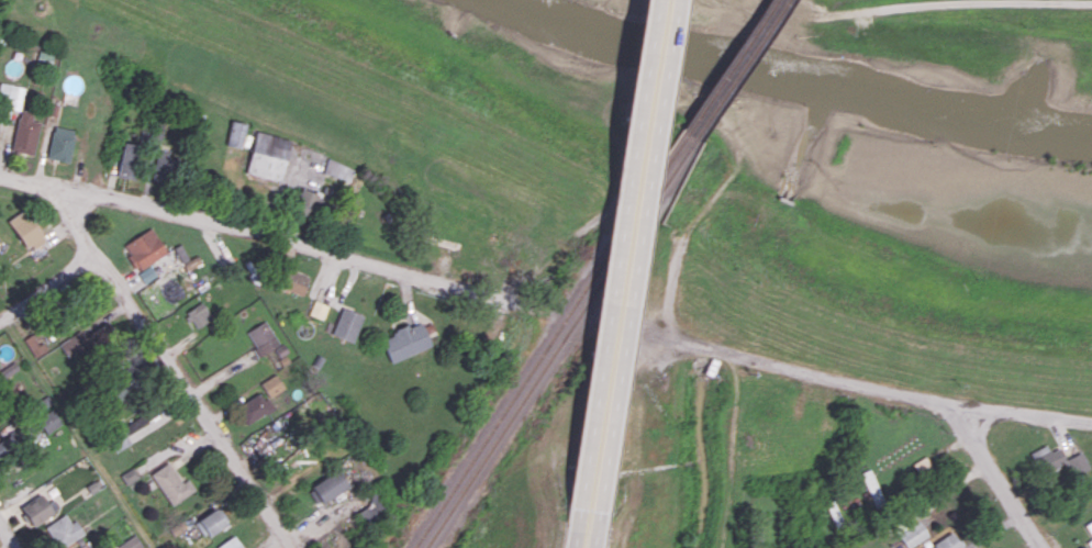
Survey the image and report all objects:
road: (920, 5)
river: (1051, 63)
building: (9, 100)
railway: (704, 105)
railway: (716, 109)
building: (23, 133)
building: (234, 133)
building: (58, 143)
building: (266, 155)
building: (126, 159)
building: (160, 165)
building: (336, 169)
building: (312, 201)
building: (25, 230)
road: (259, 239)
building: (143, 253)
building: (189, 262)
road: (612, 273)
road: (632, 273)
building: (293, 282)
road: (45, 284)
building: (316, 309)
building: (198, 314)
building: (346, 324)
building: (260, 337)
building: (404, 342)
building: (34, 344)
building: (73, 344)
road: (176, 374)
railway: (524, 378)
railway: (535, 382)
building: (270, 384)
road: (883, 385)
building: (119, 389)
building: (253, 407)
building: (47, 421)
building: (137, 427)
building: (7, 444)
building: (1045, 460)
building: (1076, 462)
building: (129, 474)
road: (999, 478)
building: (170, 483)
building: (326, 487)
building: (37, 508)
building: (372, 510)
building: (209, 522)
building: (1089, 527)
building: (63, 530)
building: (907, 532)
road: (7, 537)
building: (129, 543)
building: (230, 543)
building: (945, 543)
building: (1090, 543)
building: (88, 547)
road: (572, 547)

